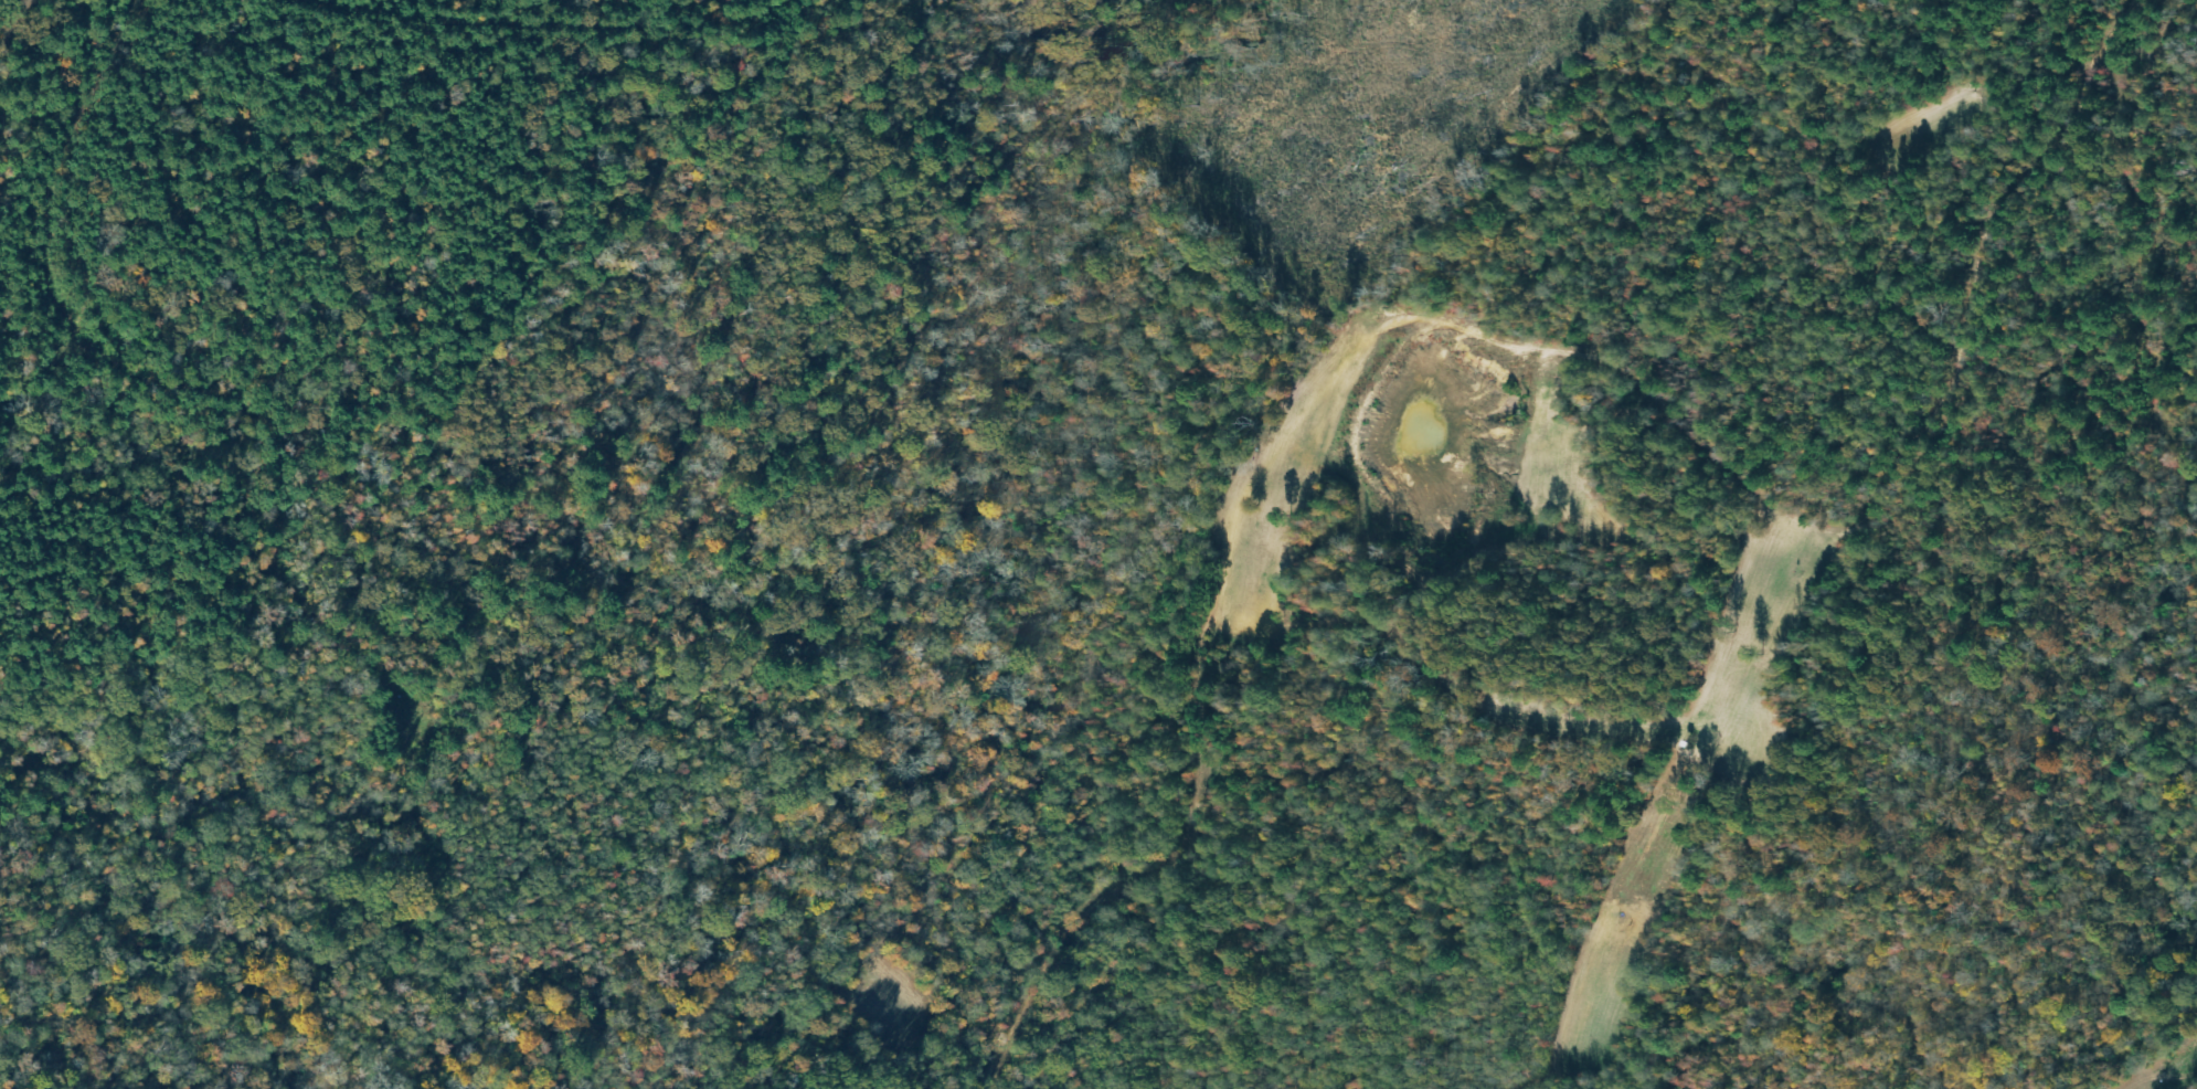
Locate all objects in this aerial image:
road: (52, 284)

